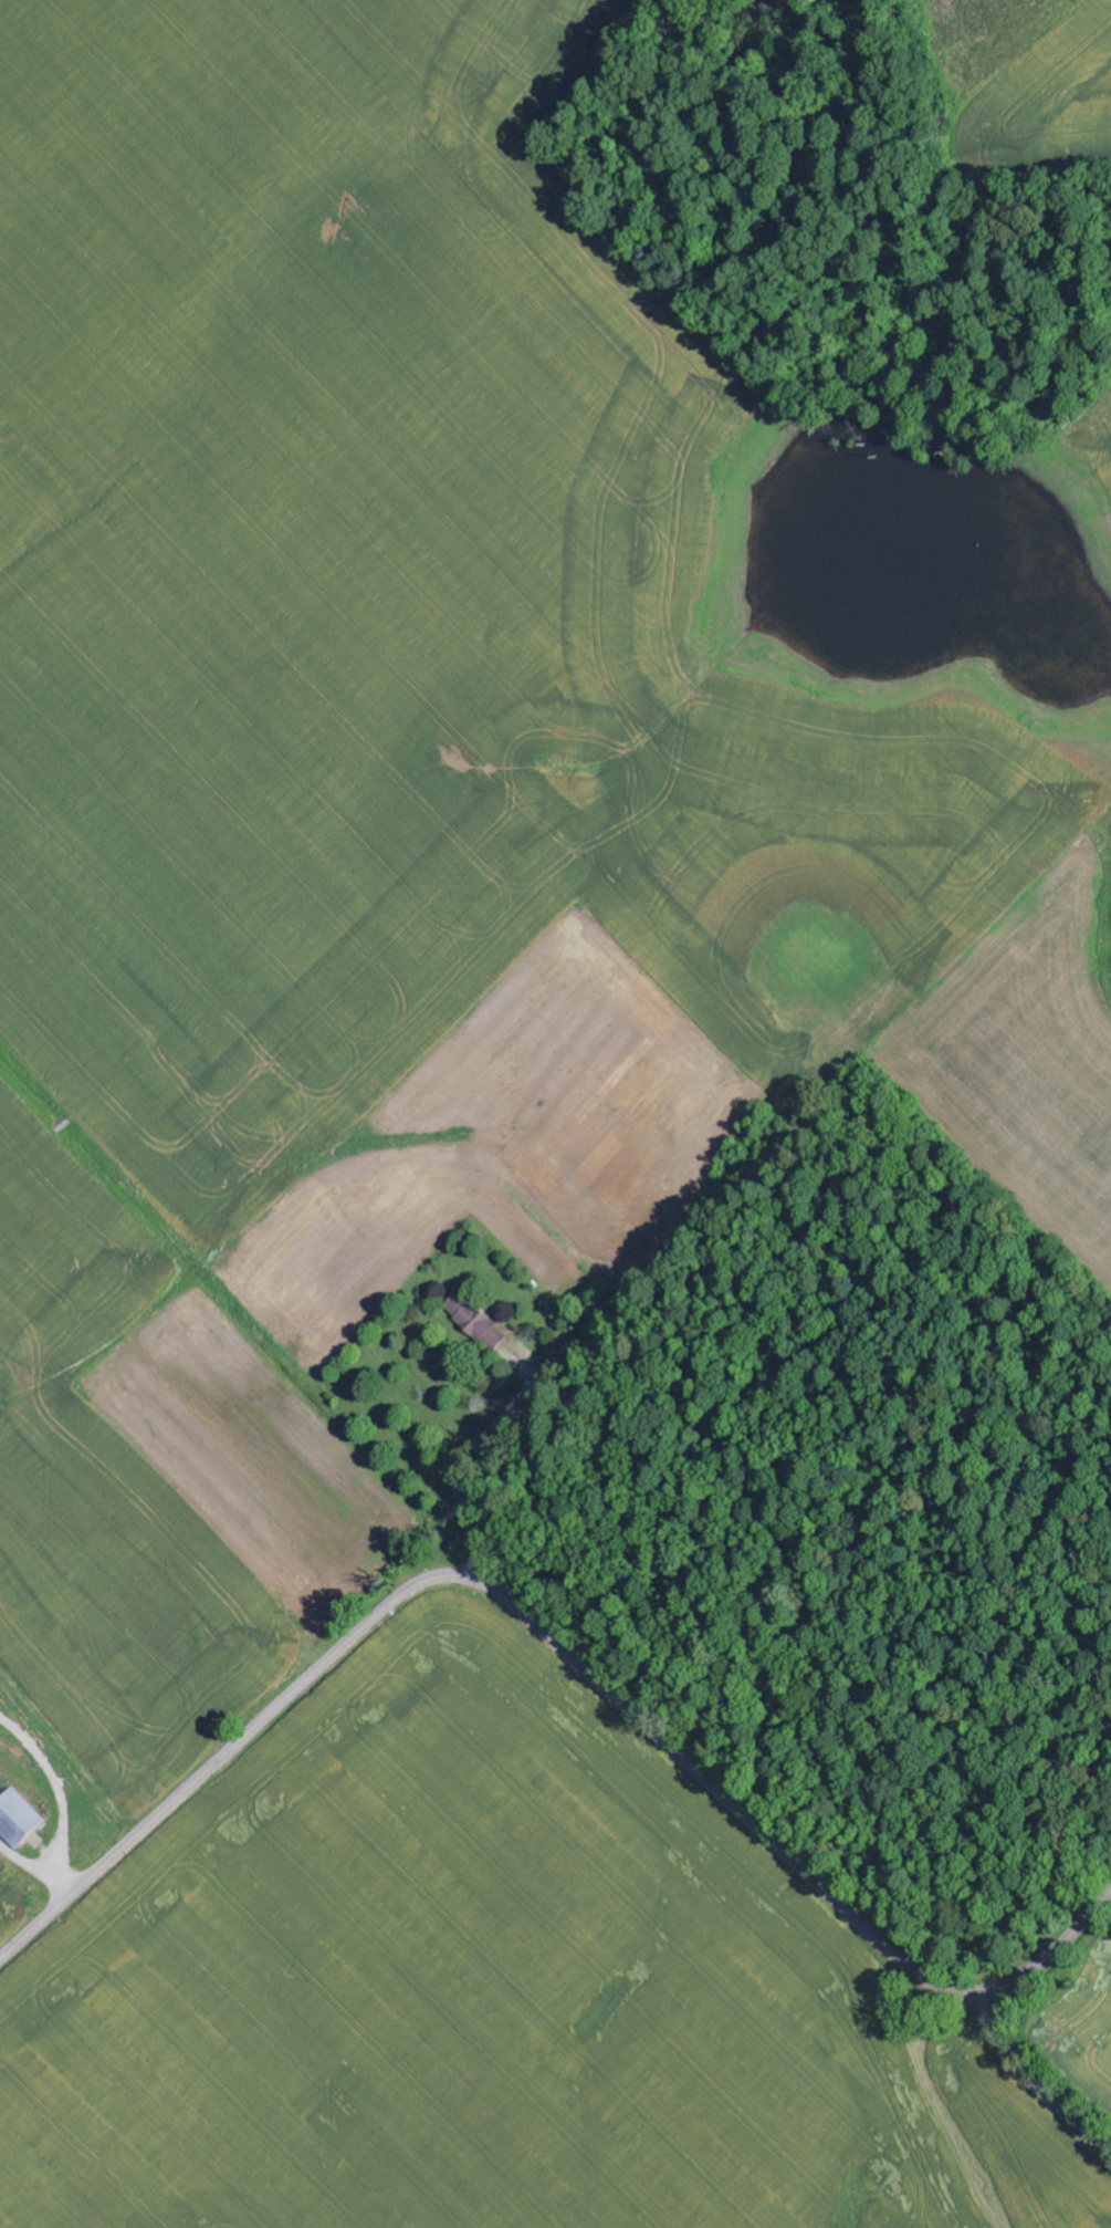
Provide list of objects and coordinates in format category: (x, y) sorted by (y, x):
building: (474, 1322)
road: (557, 1644)
building: (18, 1820)
road: (1029, 2084)

